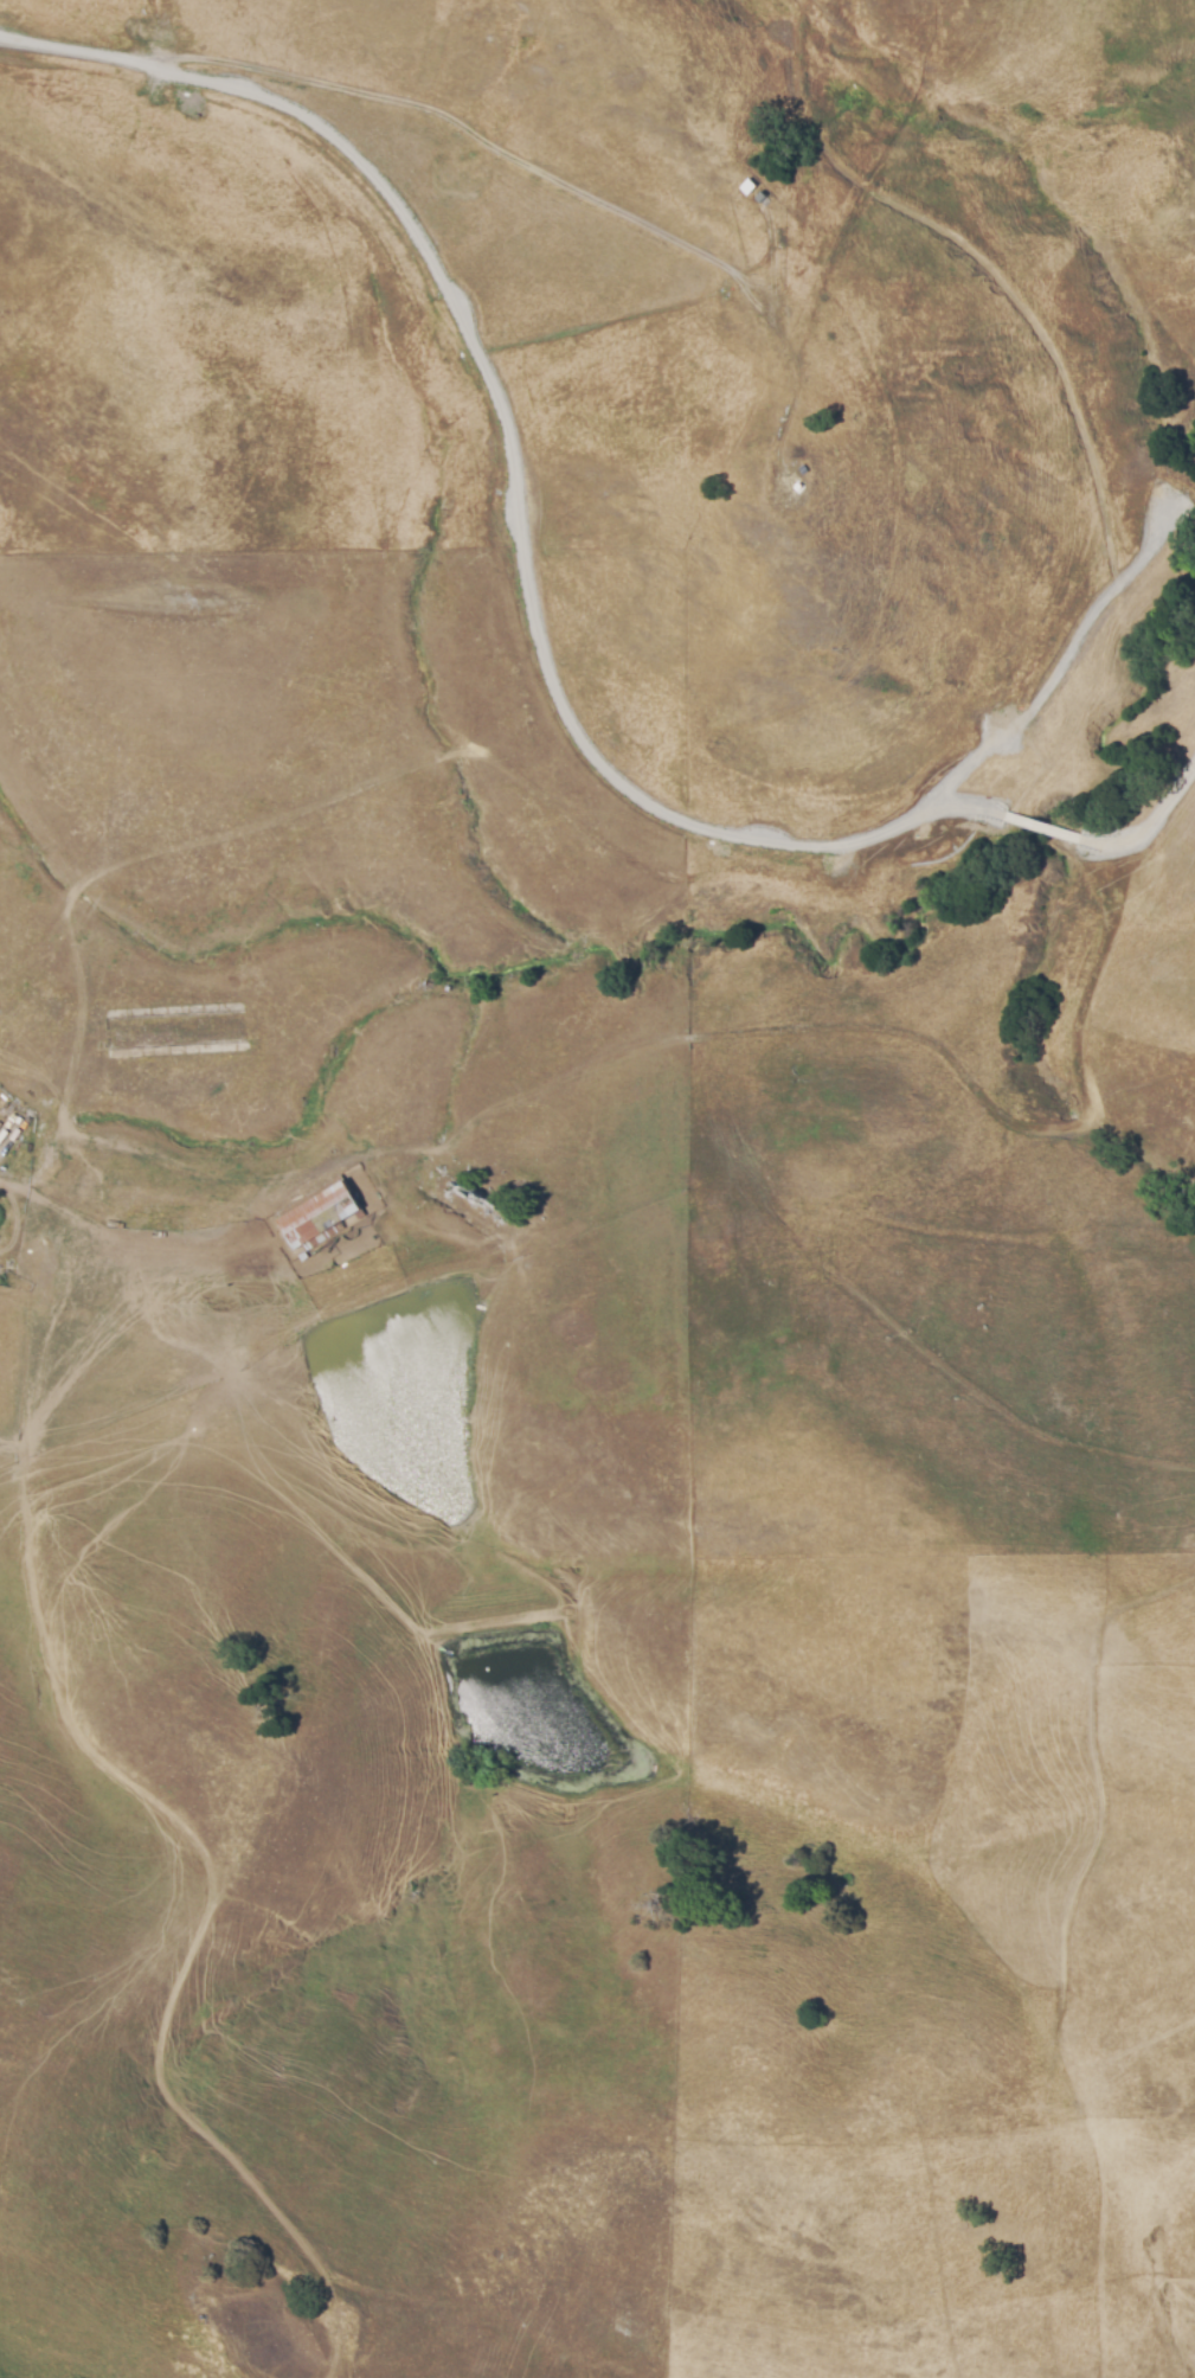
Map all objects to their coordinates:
road: (499, 405)
building: (320, 1217)

